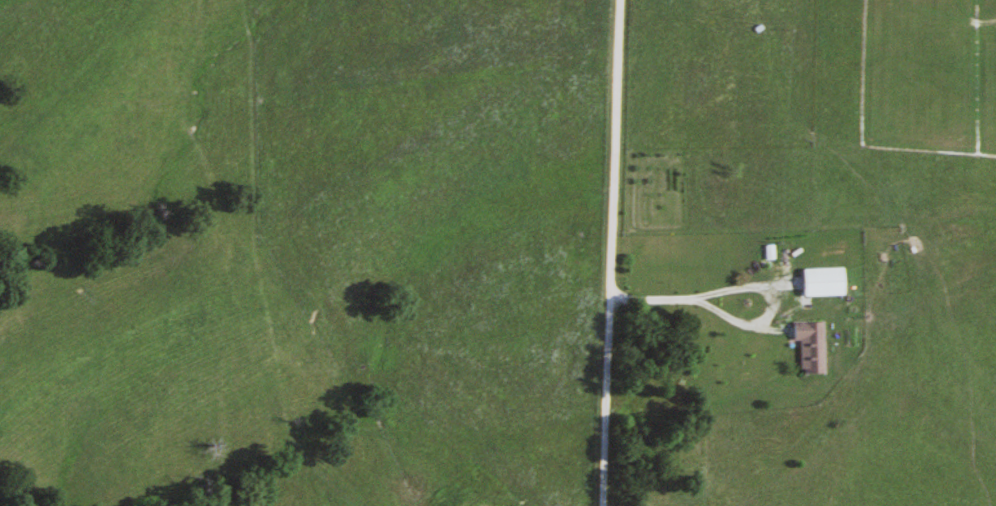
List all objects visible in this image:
road: (783, 17)
road: (611, 252)
building: (819, 282)
road: (732, 318)
building: (808, 346)

